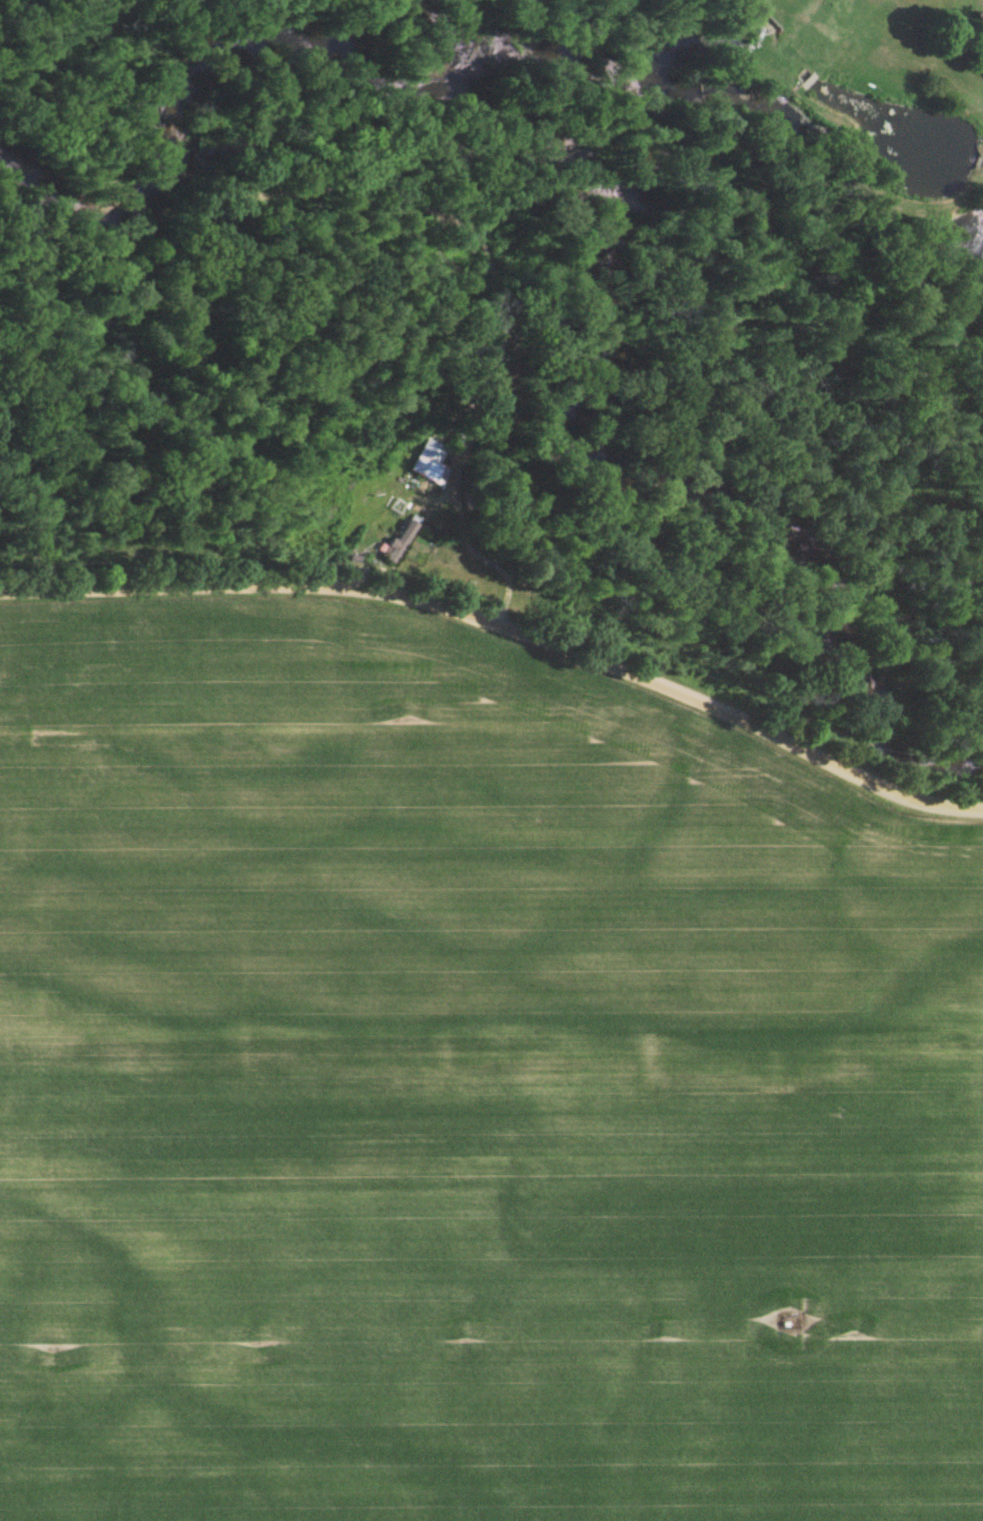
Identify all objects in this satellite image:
building: (756, 2)
river: (440, 97)
building: (505, 377)
building: (429, 464)
building: (399, 544)
road: (508, 625)

